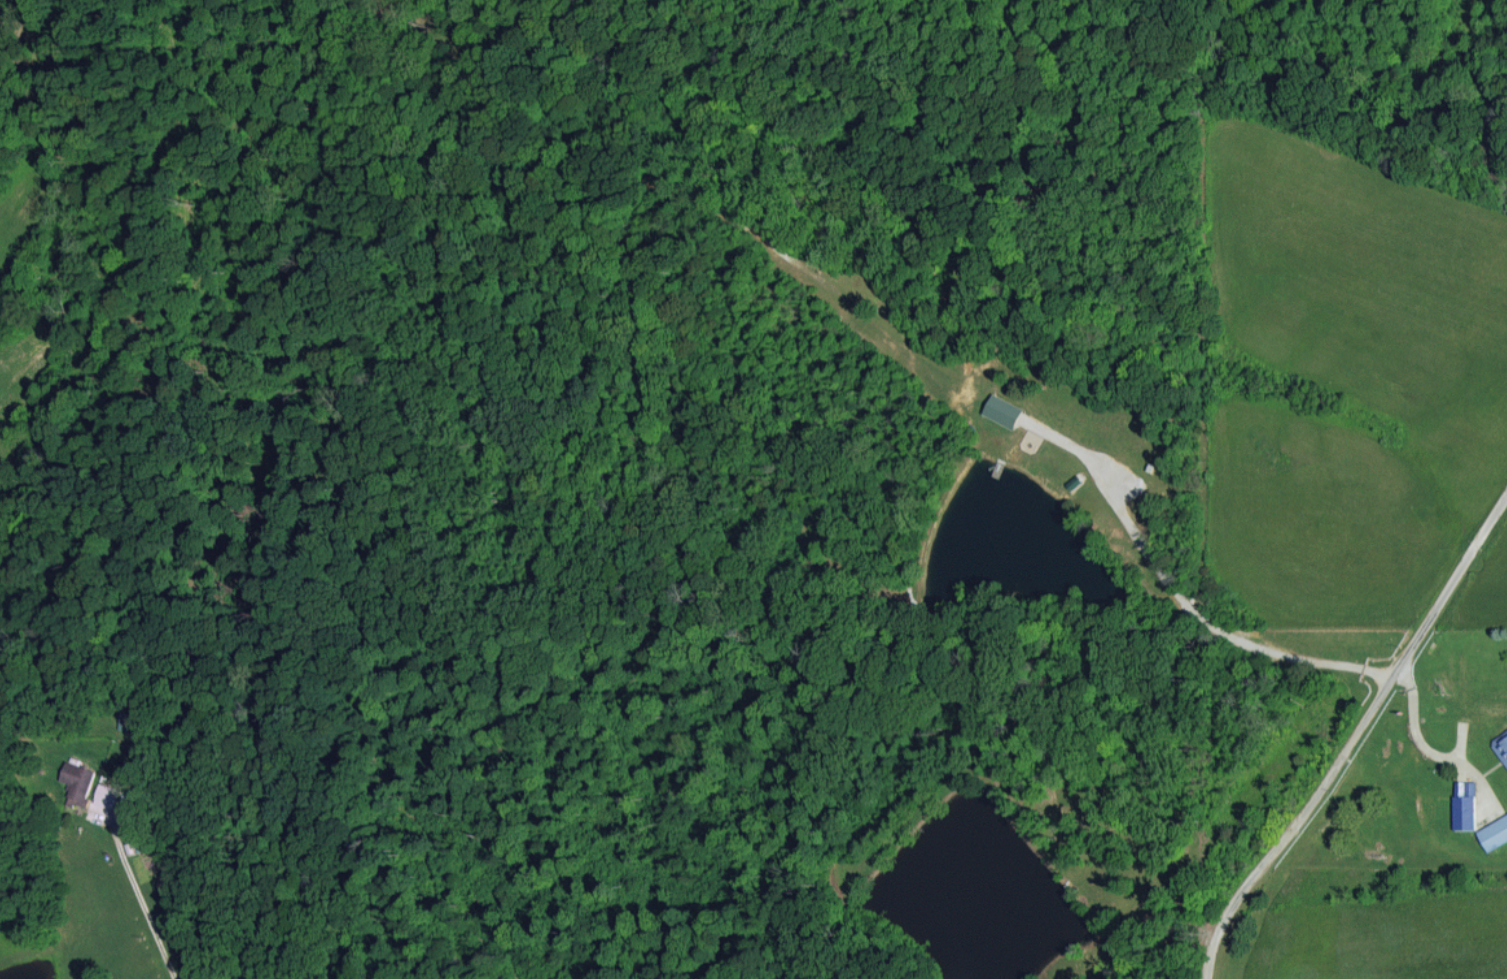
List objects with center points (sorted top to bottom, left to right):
building: (1003, 410)
road: (1357, 742)
building: (1502, 747)
building: (78, 782)
building: (1465, 812)
building: (1494, 833)

